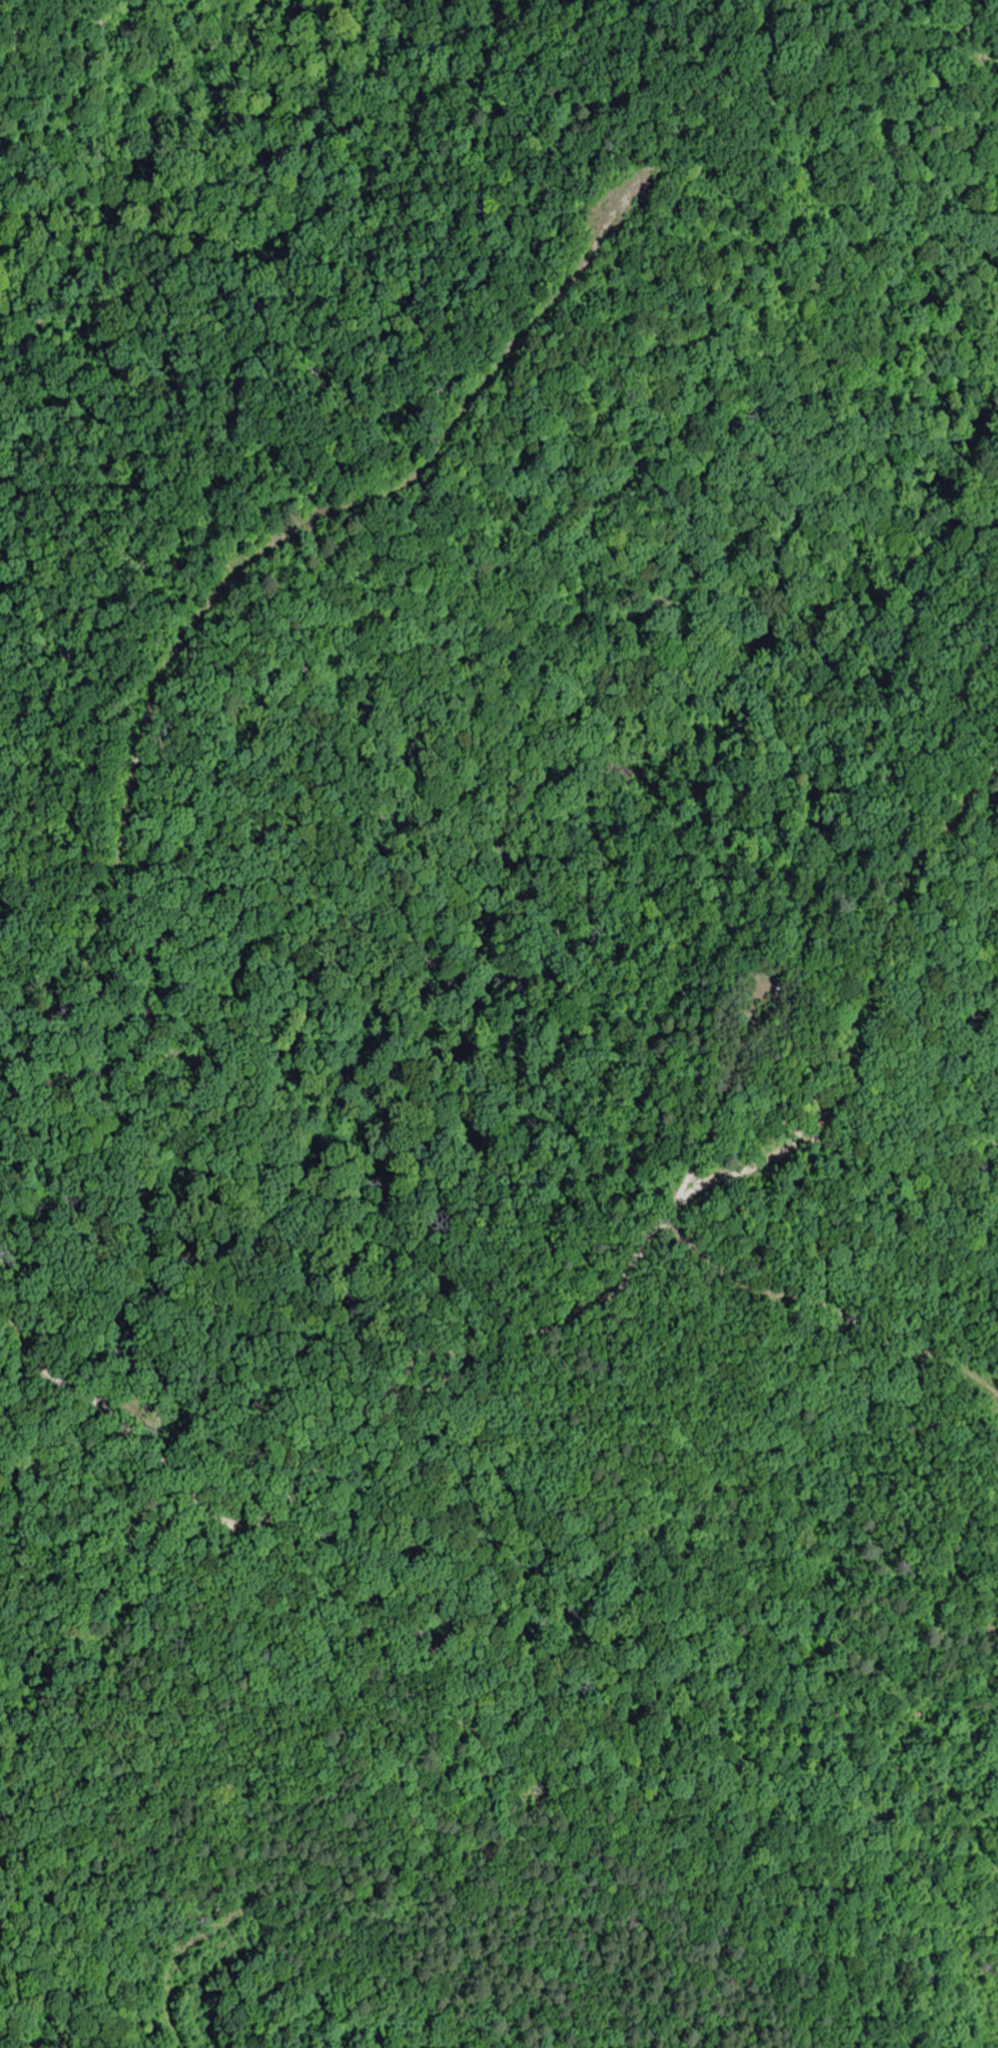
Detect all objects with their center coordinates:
road: (558, 1309)

